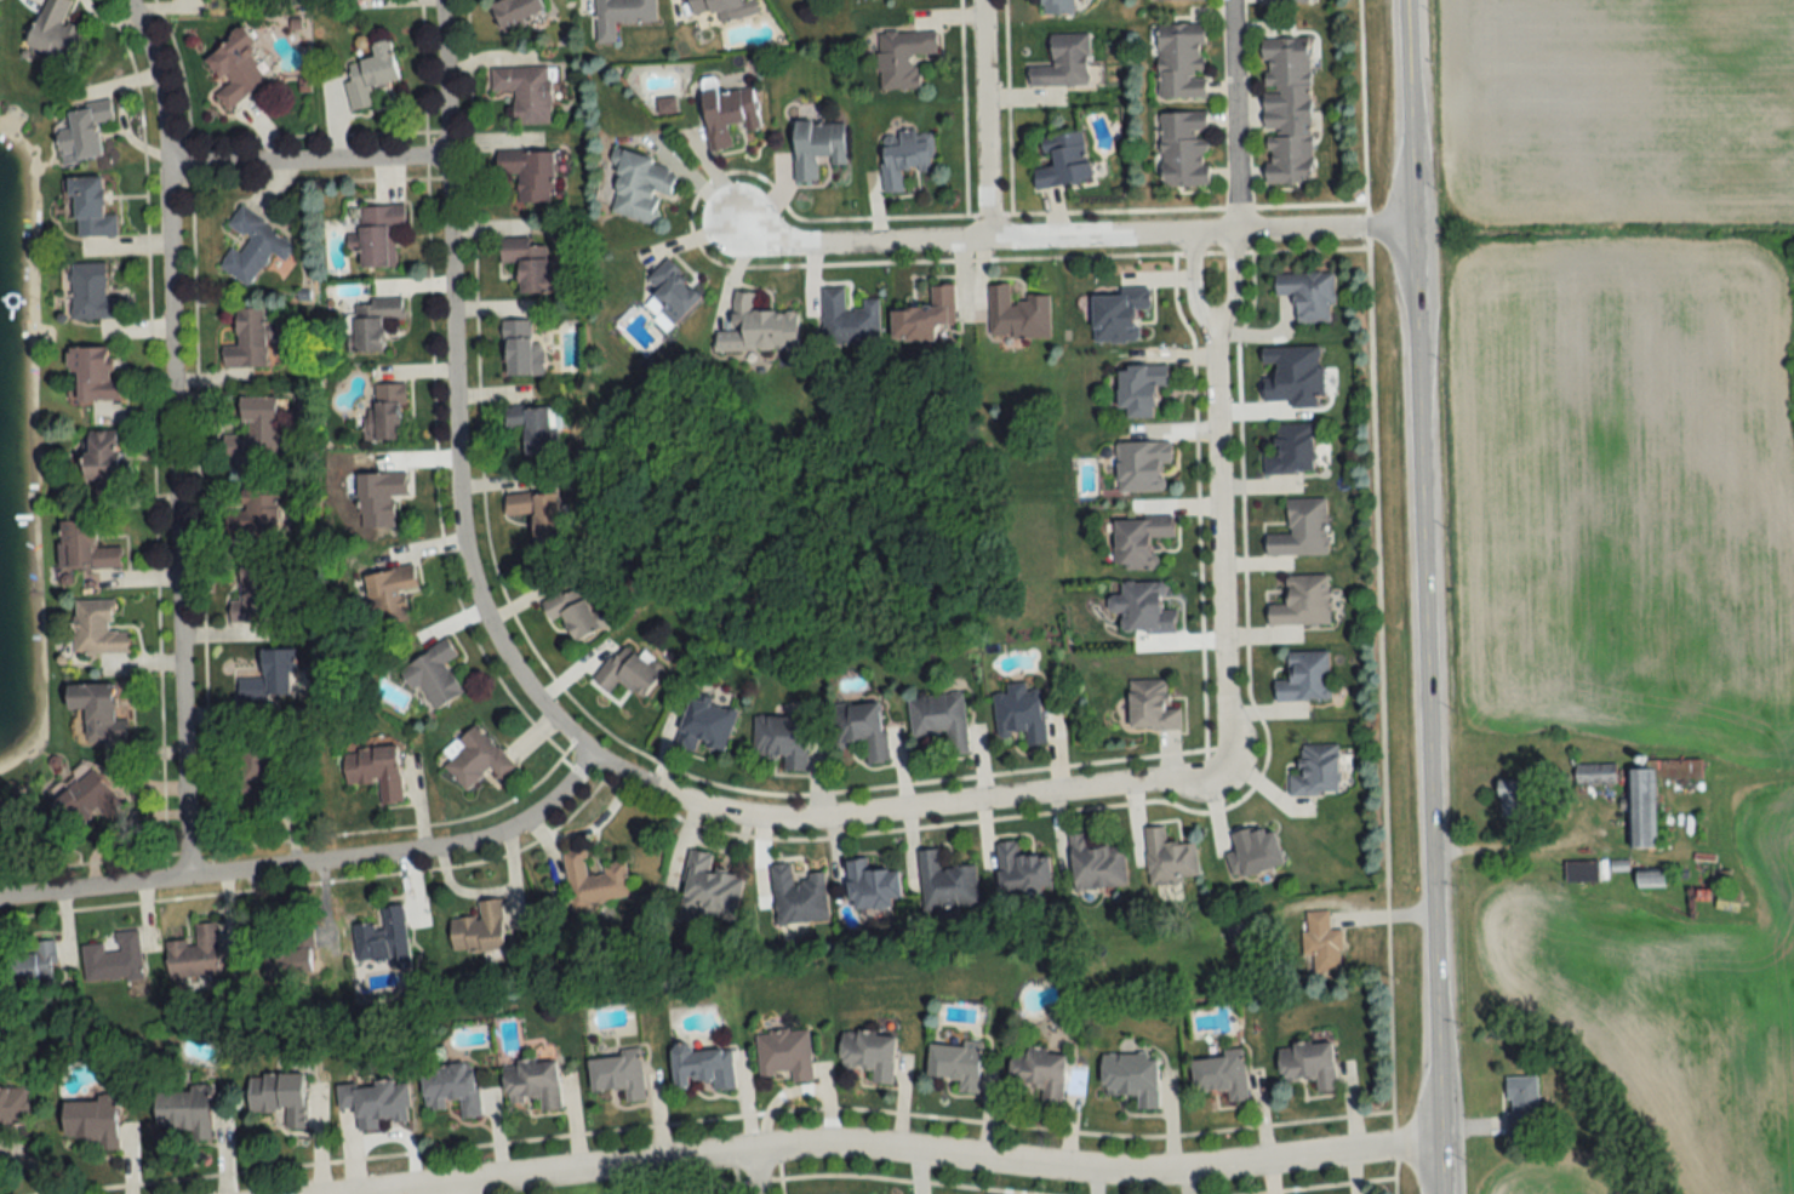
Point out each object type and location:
building: (1178, 0)
building: (1281, 1)
building: (1056, 6)
building: (724, 8)
building: (515, 13)
building: (621, 16)
building: (55, 33)
building: (902, 57)
building: (1062, 63)
building: (1181, 63)
building: (234, 69)
building: (370, 75)
road: (444, 80)
building: (525, 92)
building: (1286, 112)
building: (727, 115)
road: (1361, 115)
road: (1235, 116)
road: (982, 120)
building: (84, 130)
building: (816, 147)
building: (1183, 150)
building: (903, 158)
road: (384, 161)
building: (1063, 161)
road: (244, 162)
building: (527, 175)
building: (640, 188)
building: (88, 208)
building: (379, 235)
road: (1075, 238)
building: (252, 246)
building: (529, 264)
building: (672, 291)
building: (90, 293)
building: (1307, 293)
building: (1016, 315)
building: (1116, 315)
building: (847, 319)
building: (926, 319)
building: (372, 322)
building: (758, 327)
road: (1213, 332)
building: (246, 339)
building: (520, 350)
building: (93, 373)
building: (1139, 389)
building: (388, 412)
building: (533, 427)
building: (253, 429)
road: (173, 436)
building: (1290, 450)
building: (99, 457)
building: (1142, 465)
building: (381, 498)
building: (256, 508)
building: (536, 513)
building: (1301, 530)
building: (1138, 542)
building: (84, 548)
road: (1219, 553)
building: (250, 593)
road: (1424, 596)
building: (1302, 602)
building: (389, 606)
building: (1142, 609)
building: (571, 612)
building: (97, 630)
building: (625, 673)
building: (432, 678)
building: (1304, 678)
building: (264, 687)
building: (1150, 707)
building: (96, 712)
building: (1019, 714)
building: (939, 719)
building: (705, 726)
building: (861, 729)
building: (781, 741)
building: (474, 758)
road: (595, 760)
building: (258, 761)
building: (373, 771)
building: (1315, 771)
building: (1594, 773)
building: (1510, 800)
building: (84, 802)
building: (1641, 809)
building: (6, 825)
road: (1497, 846)
building: (1253, 852)
building: (1169, 859)
road: (310, 864)
building: (1096, 865)
building: (1021, 870)
building: (1581, 872)
building: (1650, 879)
building: (594, 880)
building: (945, 884)
building: (870, 886)
building: (708, 889)
building: (798, 896)
building: (478, 930)
building: (381, 938)
building: (1321, 942)
building: (194, 953)
building: (291, 955)
building: (114, 961)
building: (32, 965)
building: (869, 1052)
building: (783, 1055)
building: (955, 1063)
building: (1307, 1063)
building: (703, 1066)
building: (1040, 1070)
building: (1221, 1073)
building: (617, 1074)
building: (1131, 1076)
building: (532, 1082)
building: (451, 1089)
building: (279, 1096)
building: (375, 1102)
building: (1520, 1103)
building: (12, 1106)
building: (184, 1109)
building: (91, 1120)
road: (914, 1153)
road: (755, 1172)
road: (453, 1190)

